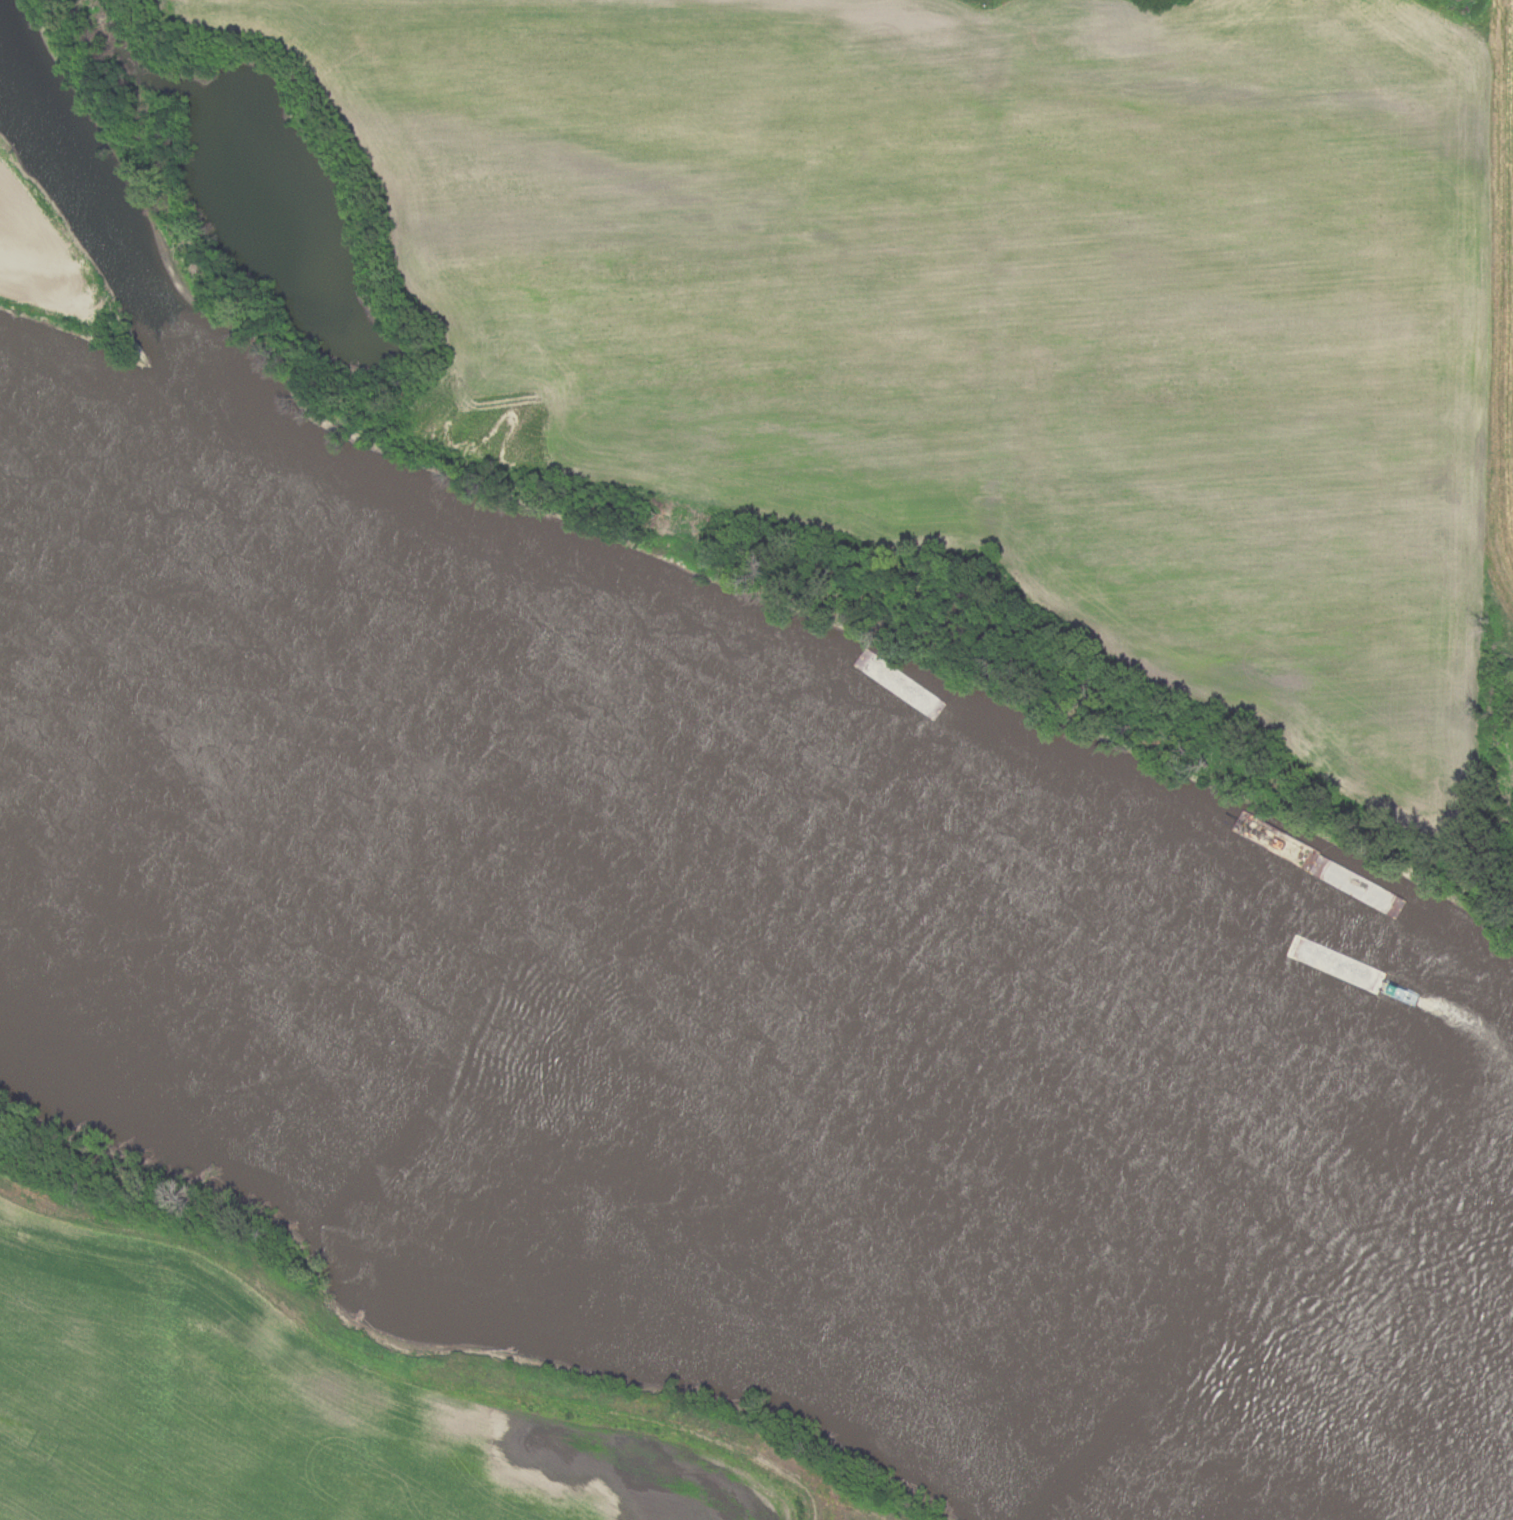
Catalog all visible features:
river: (232, 453)
river: (762, 1037)
crop: (317, 1404)

